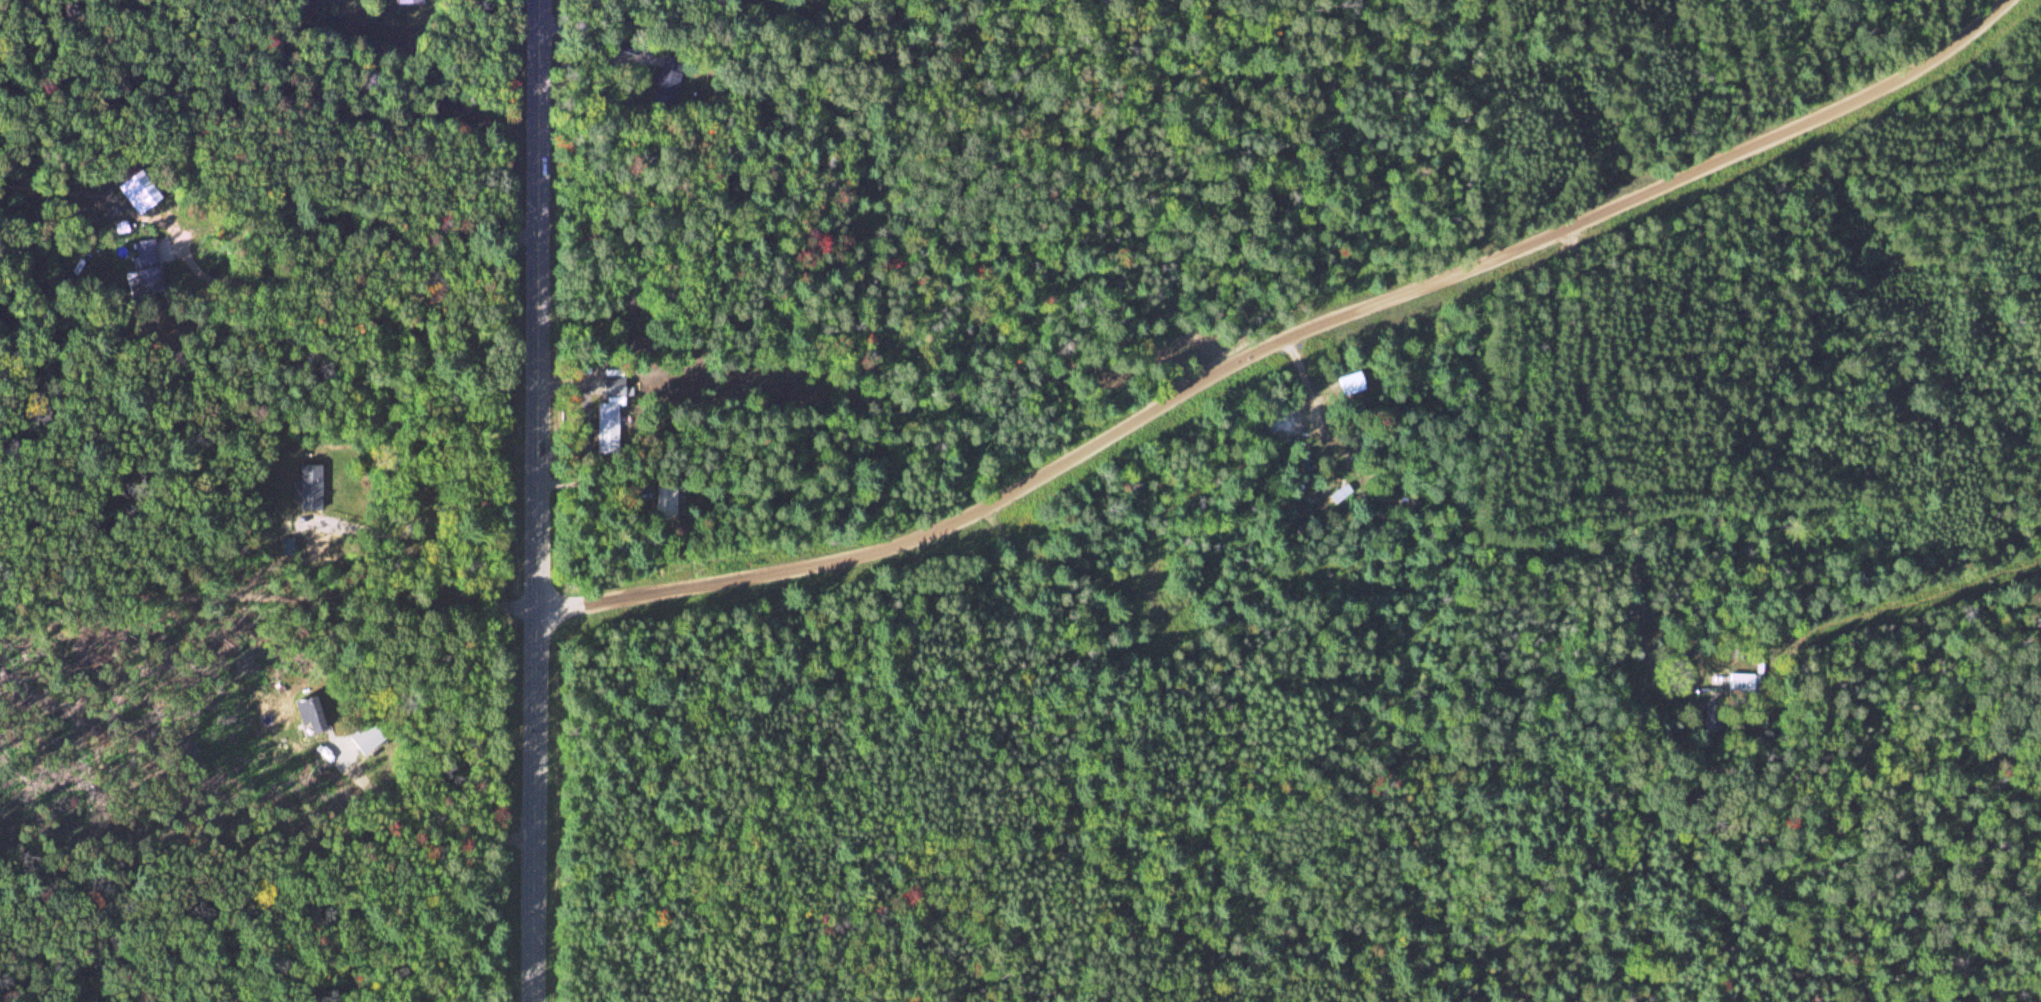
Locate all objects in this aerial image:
building: (666, 84)
building: (138, 190)
building: (144, 269)
road: (1283, 340)
building: (608, 413)
building: (310, 486)
road: (536, 501)
building: (665, 502)
building: (1152, 623)
building: (1742, 683)
building: (306, 713)
building: (1711, 719)
building: (365, 736)

